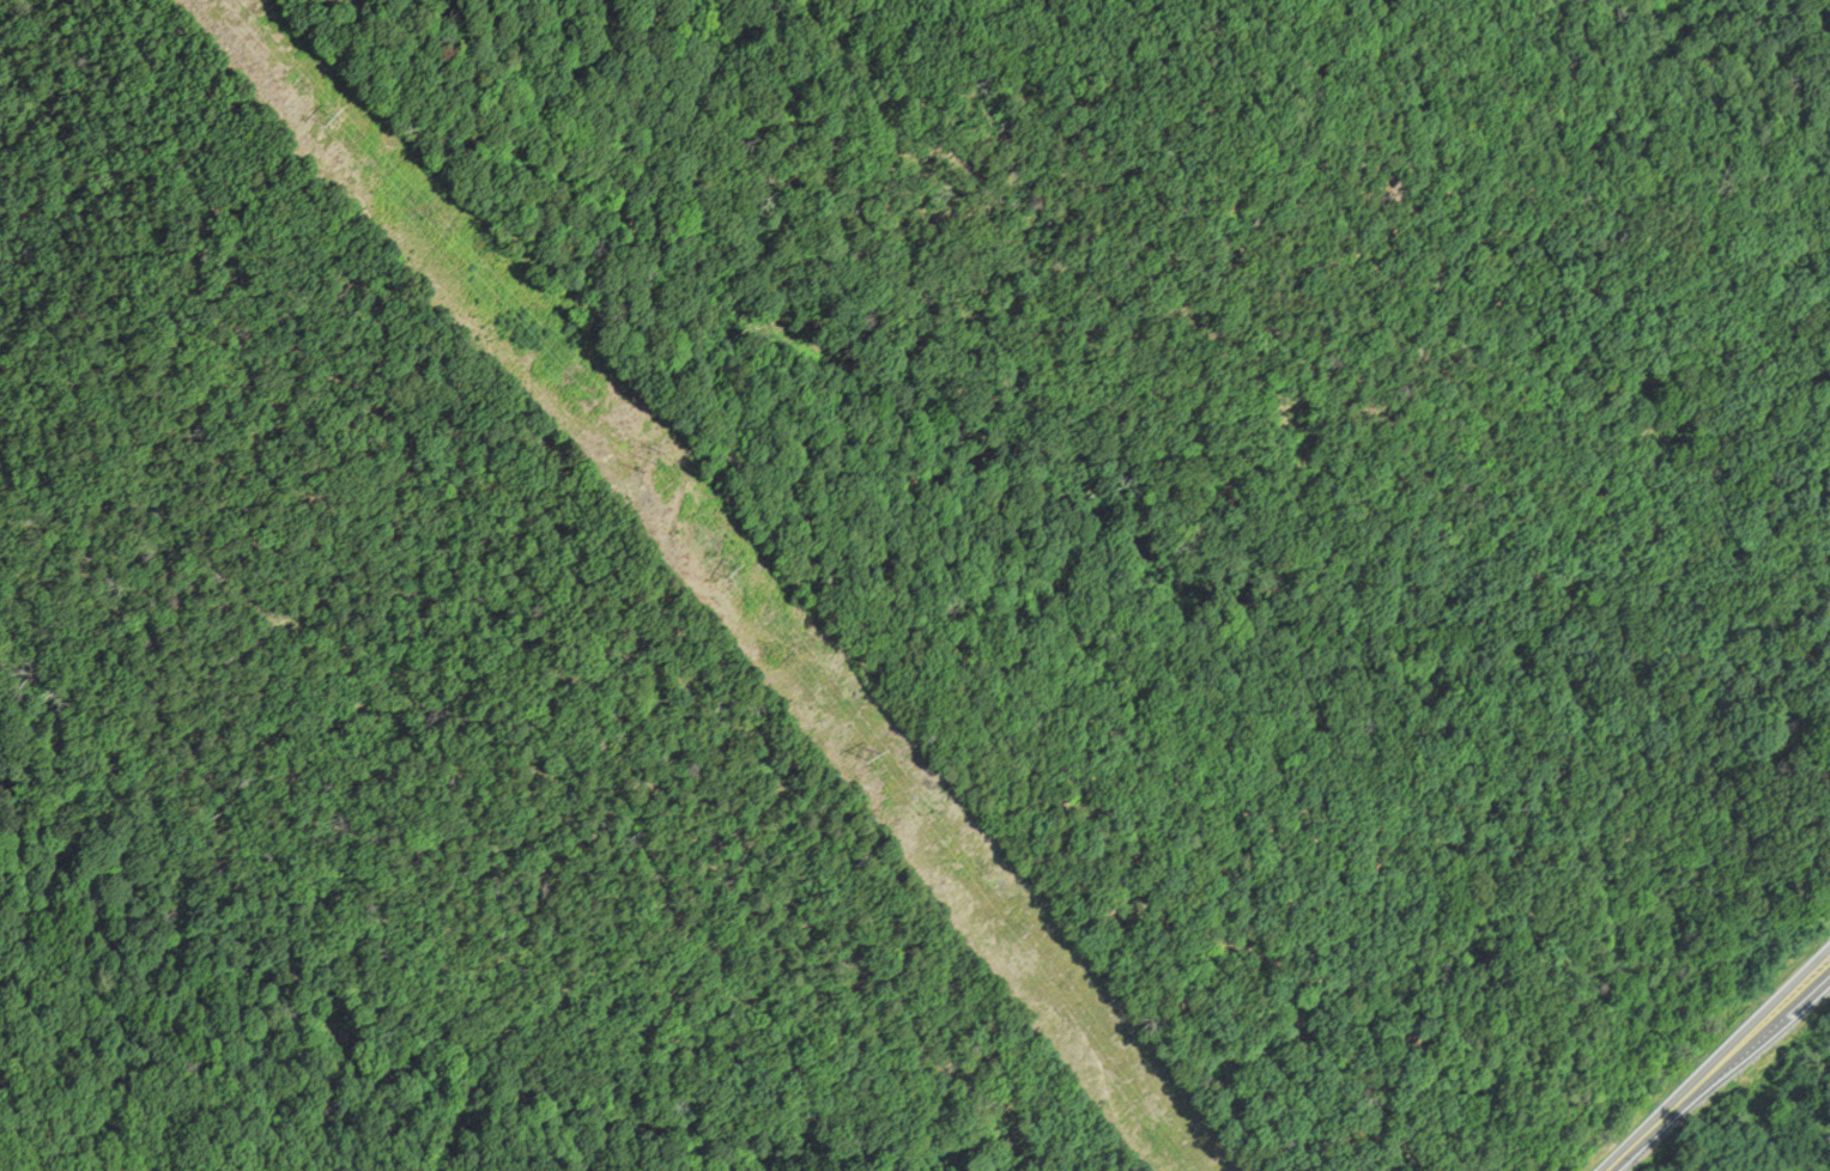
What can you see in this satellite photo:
power tower: (337, 125)
power tower: (656, 468)
power tower: (737, 576)
power tower: (879, 763)
road: (1715, 1066)

